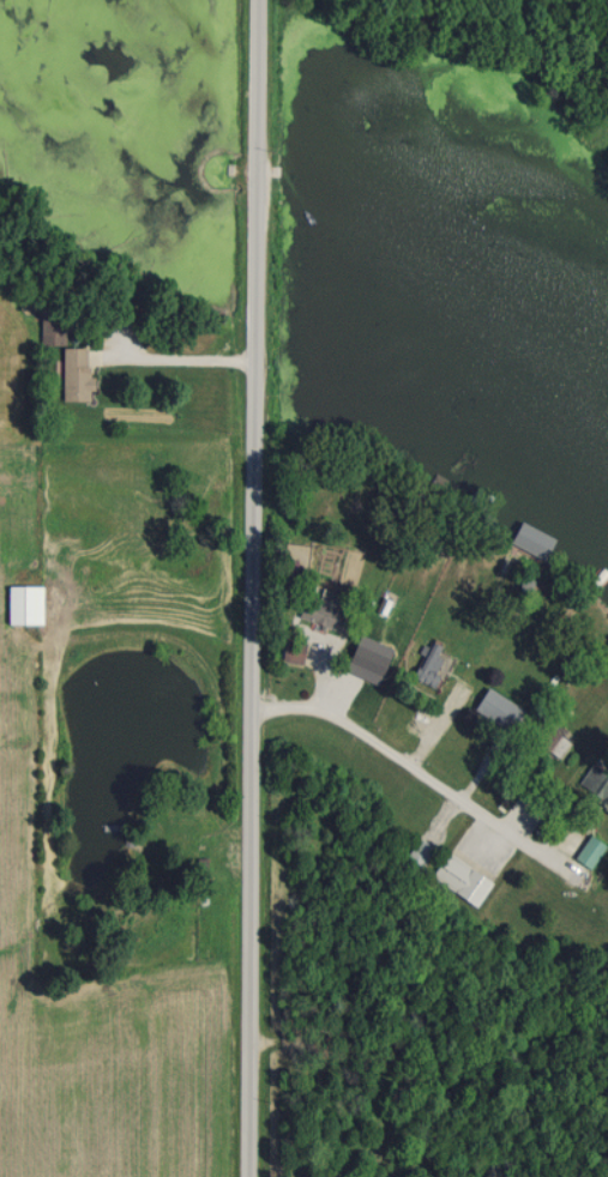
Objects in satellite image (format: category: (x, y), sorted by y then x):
road: (176, 364)
building: (73, 374)
road: (253, 588)
building: (22, 605)
building: (320, 610)
building: (362, 650)
building: (290, 651)
building: (494, 708)
road: (415, 762)
building: (594, 786)
building: (417, 852)
building: (586, 852)

